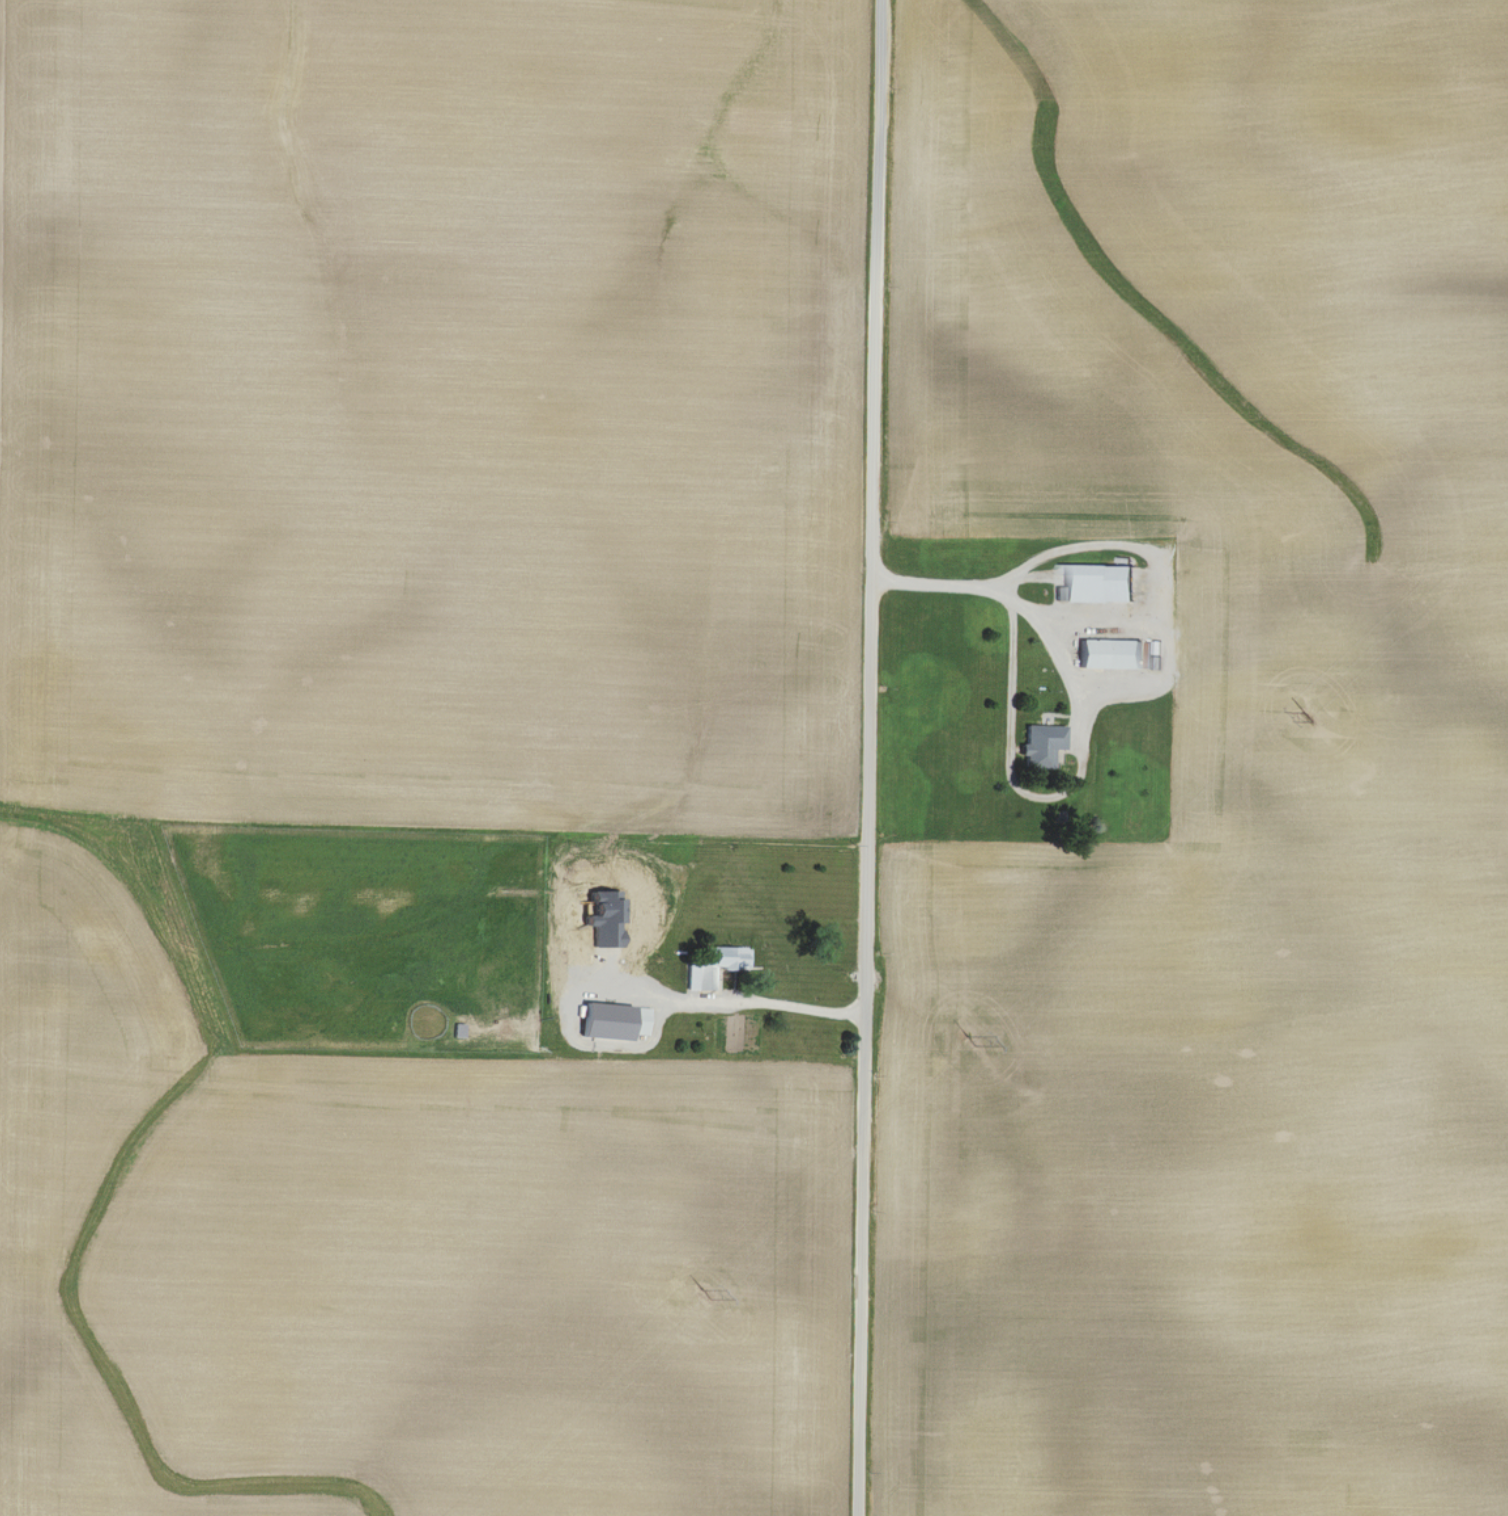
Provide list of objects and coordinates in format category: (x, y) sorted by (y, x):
building: (1104, 584)
building: (1114, 654)
power tower: (1308, 719)
building: (1042, 745)
road: (868, 757)
building: (717, 966)
power tower: (972, 1038)
power tower: (702, 1299)

